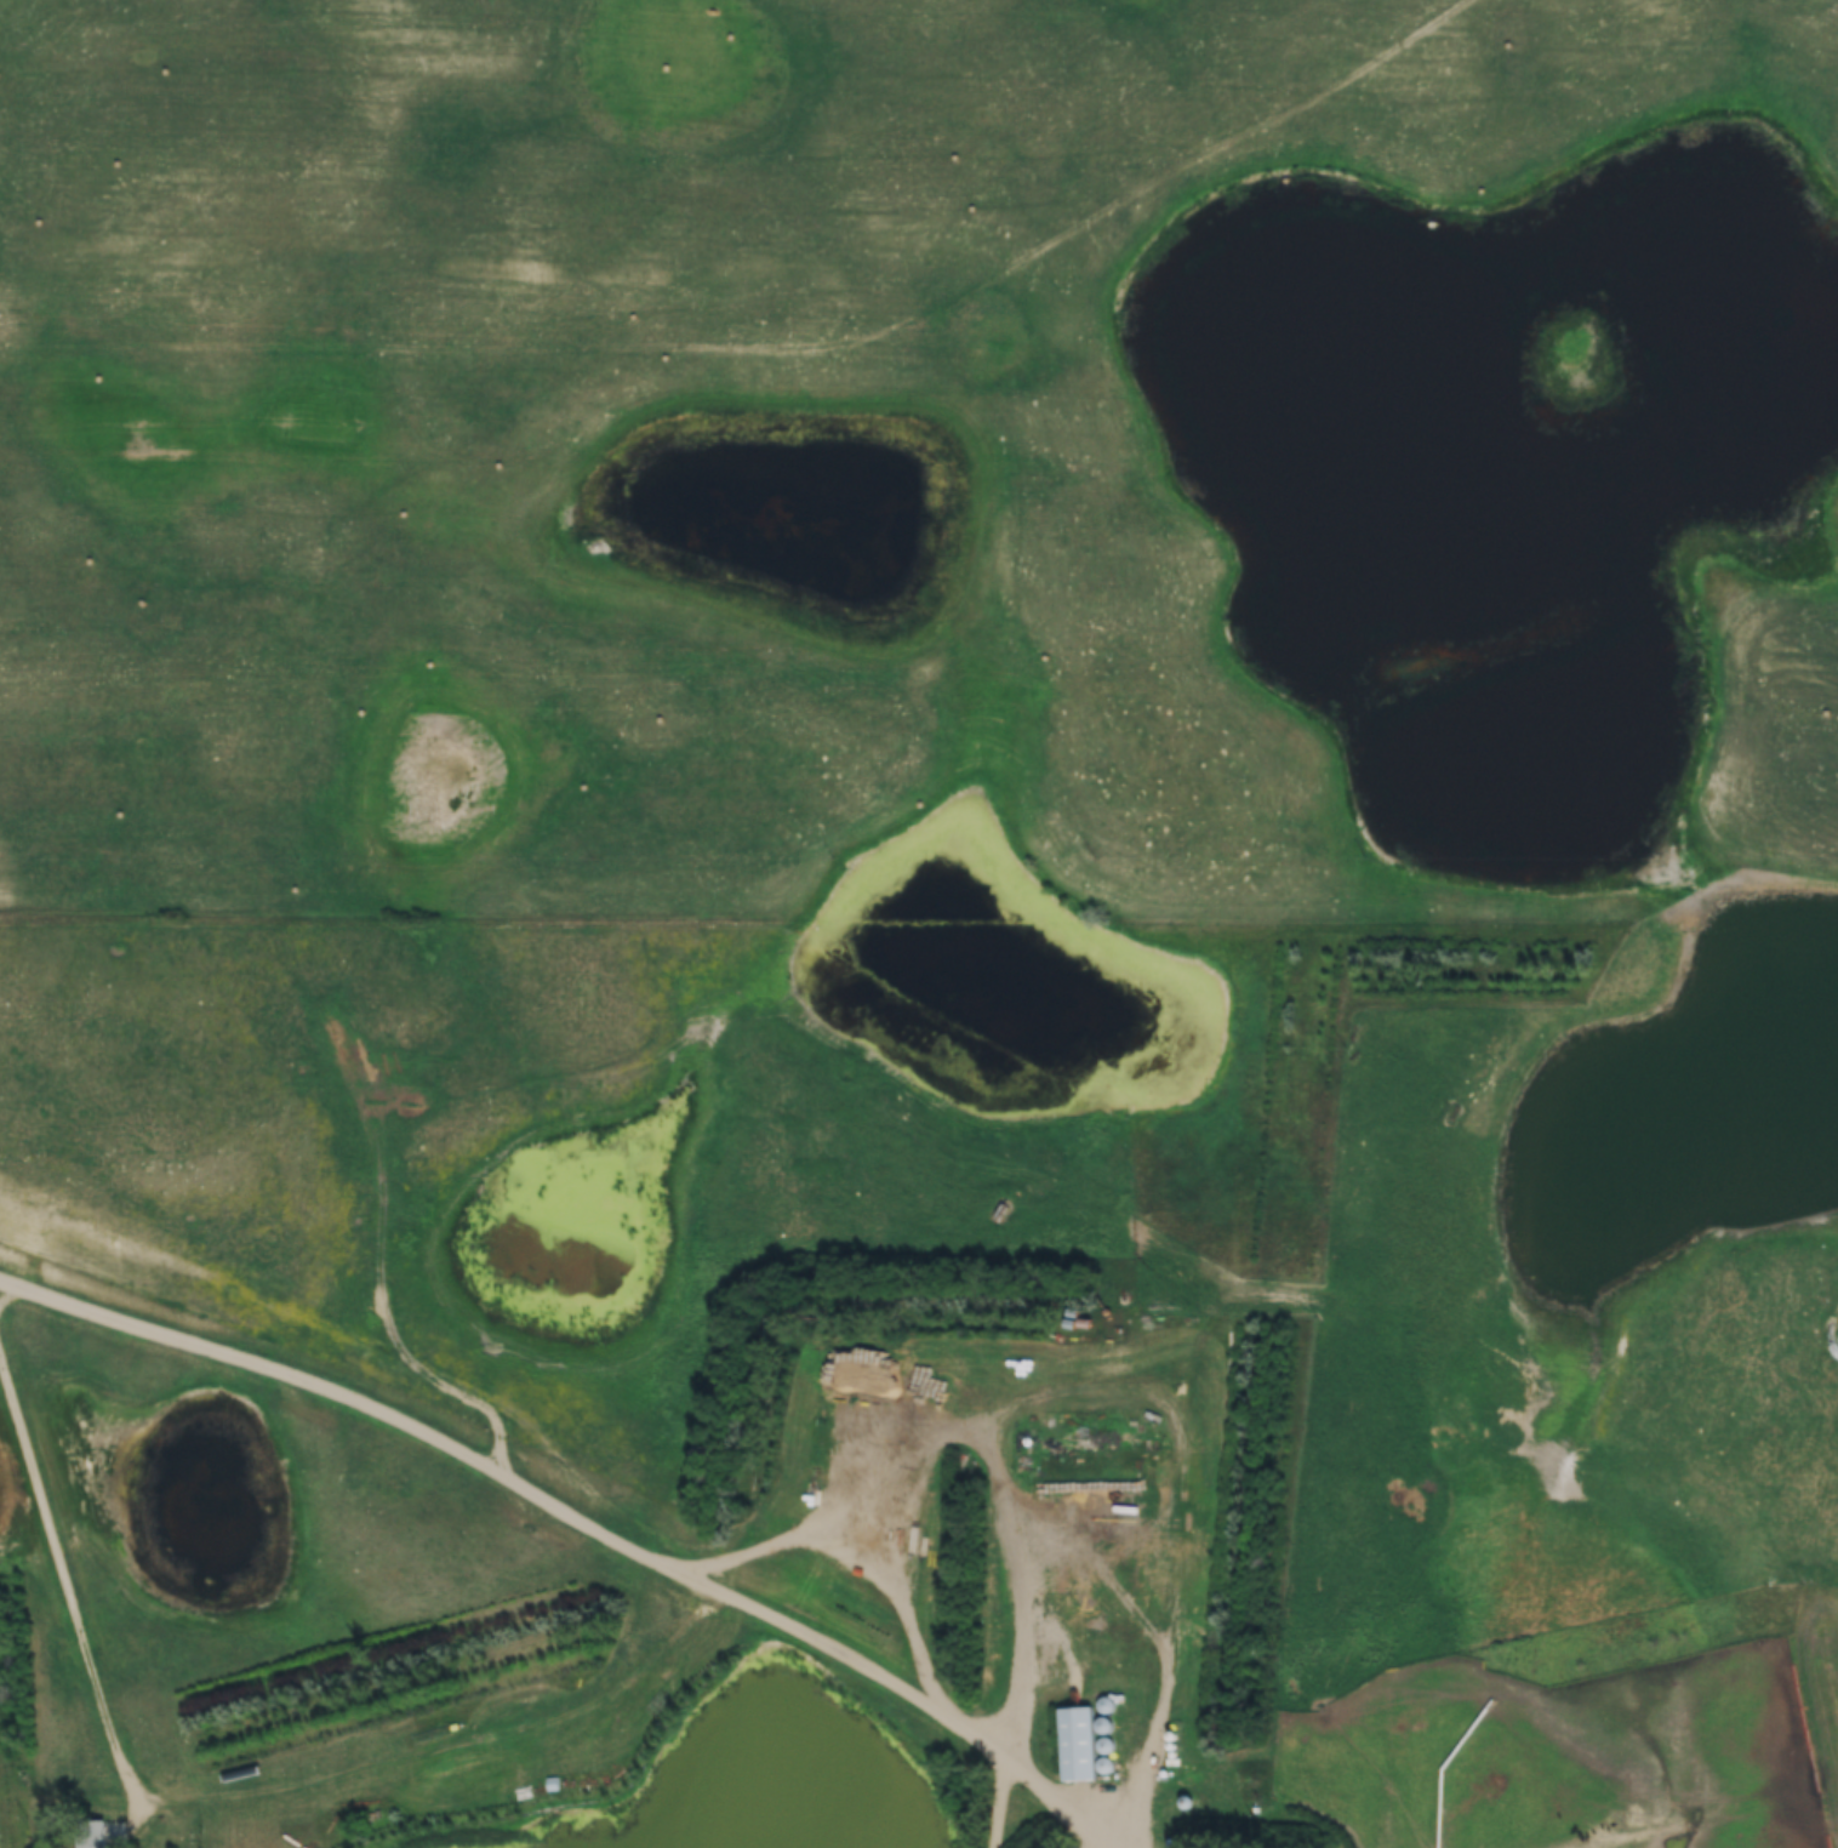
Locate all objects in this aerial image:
road: (1034, 1502)
road: (571, 1523)
road: (74, 1604)
road: (1029, 1638)
building: (1081, 1745)
road: (998, 1806)
road: (1718, 1806)
building: (95, 1833)

